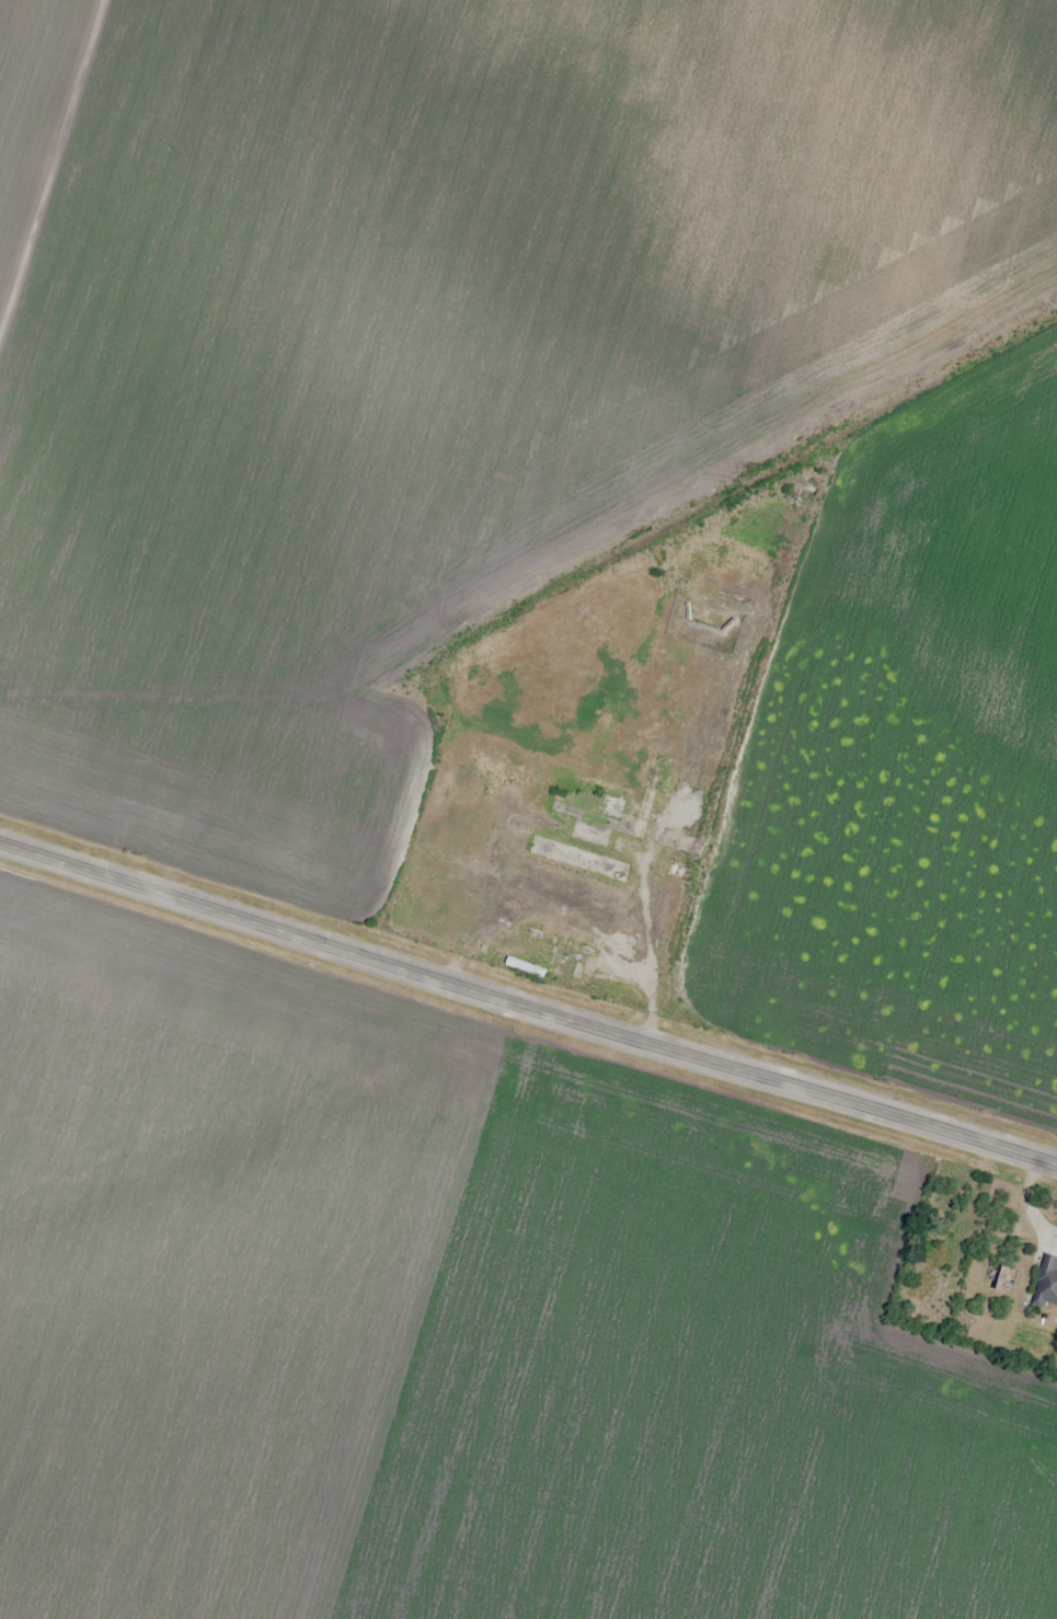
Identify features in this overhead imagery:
building: (659, 776)
building: (600, 815)
road: (528, 1003)
park: (939, 1251)
building: (1045, 1282)

